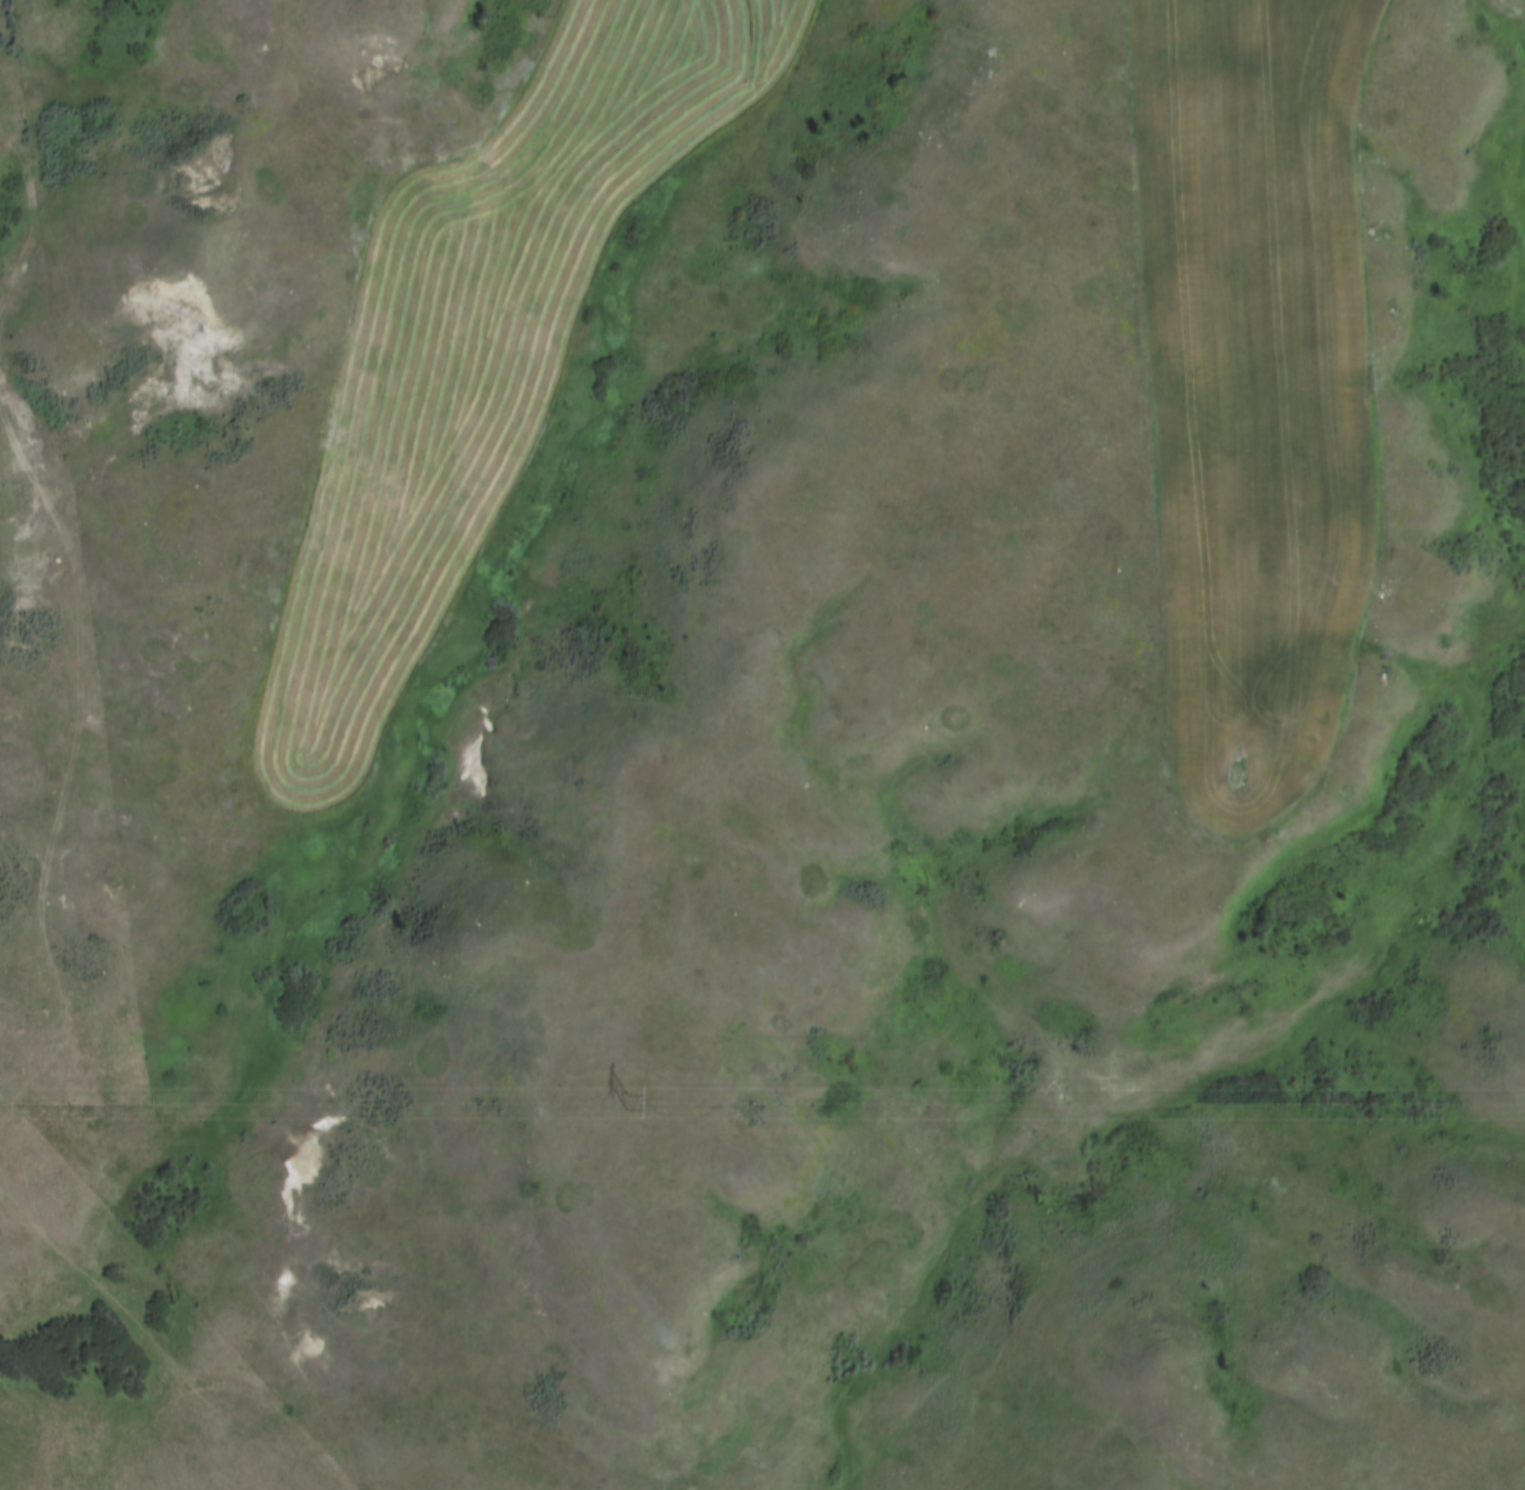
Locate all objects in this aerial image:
power tower: (621, 1100)

